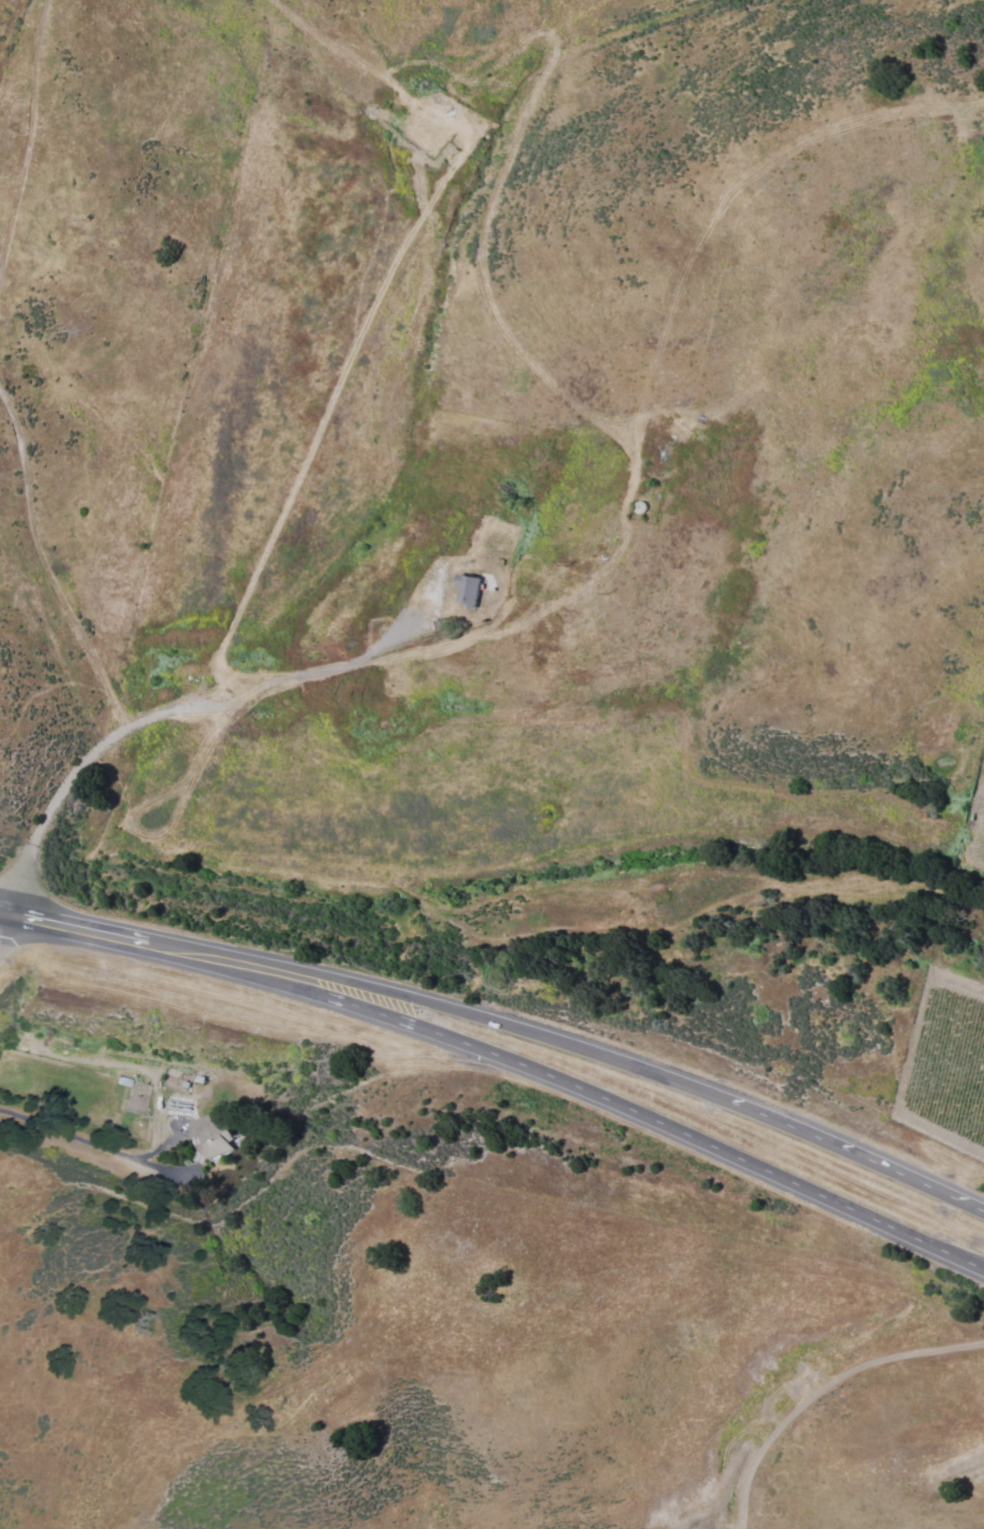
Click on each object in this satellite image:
road: (380, 490)
building: (464, 589)
crop: (982, 850)
road: (32, 927)
road: (3, 933)
road: (536, 1033)
road: (535, 1068)
building: (211, 1135)
road: (238, 1147)

